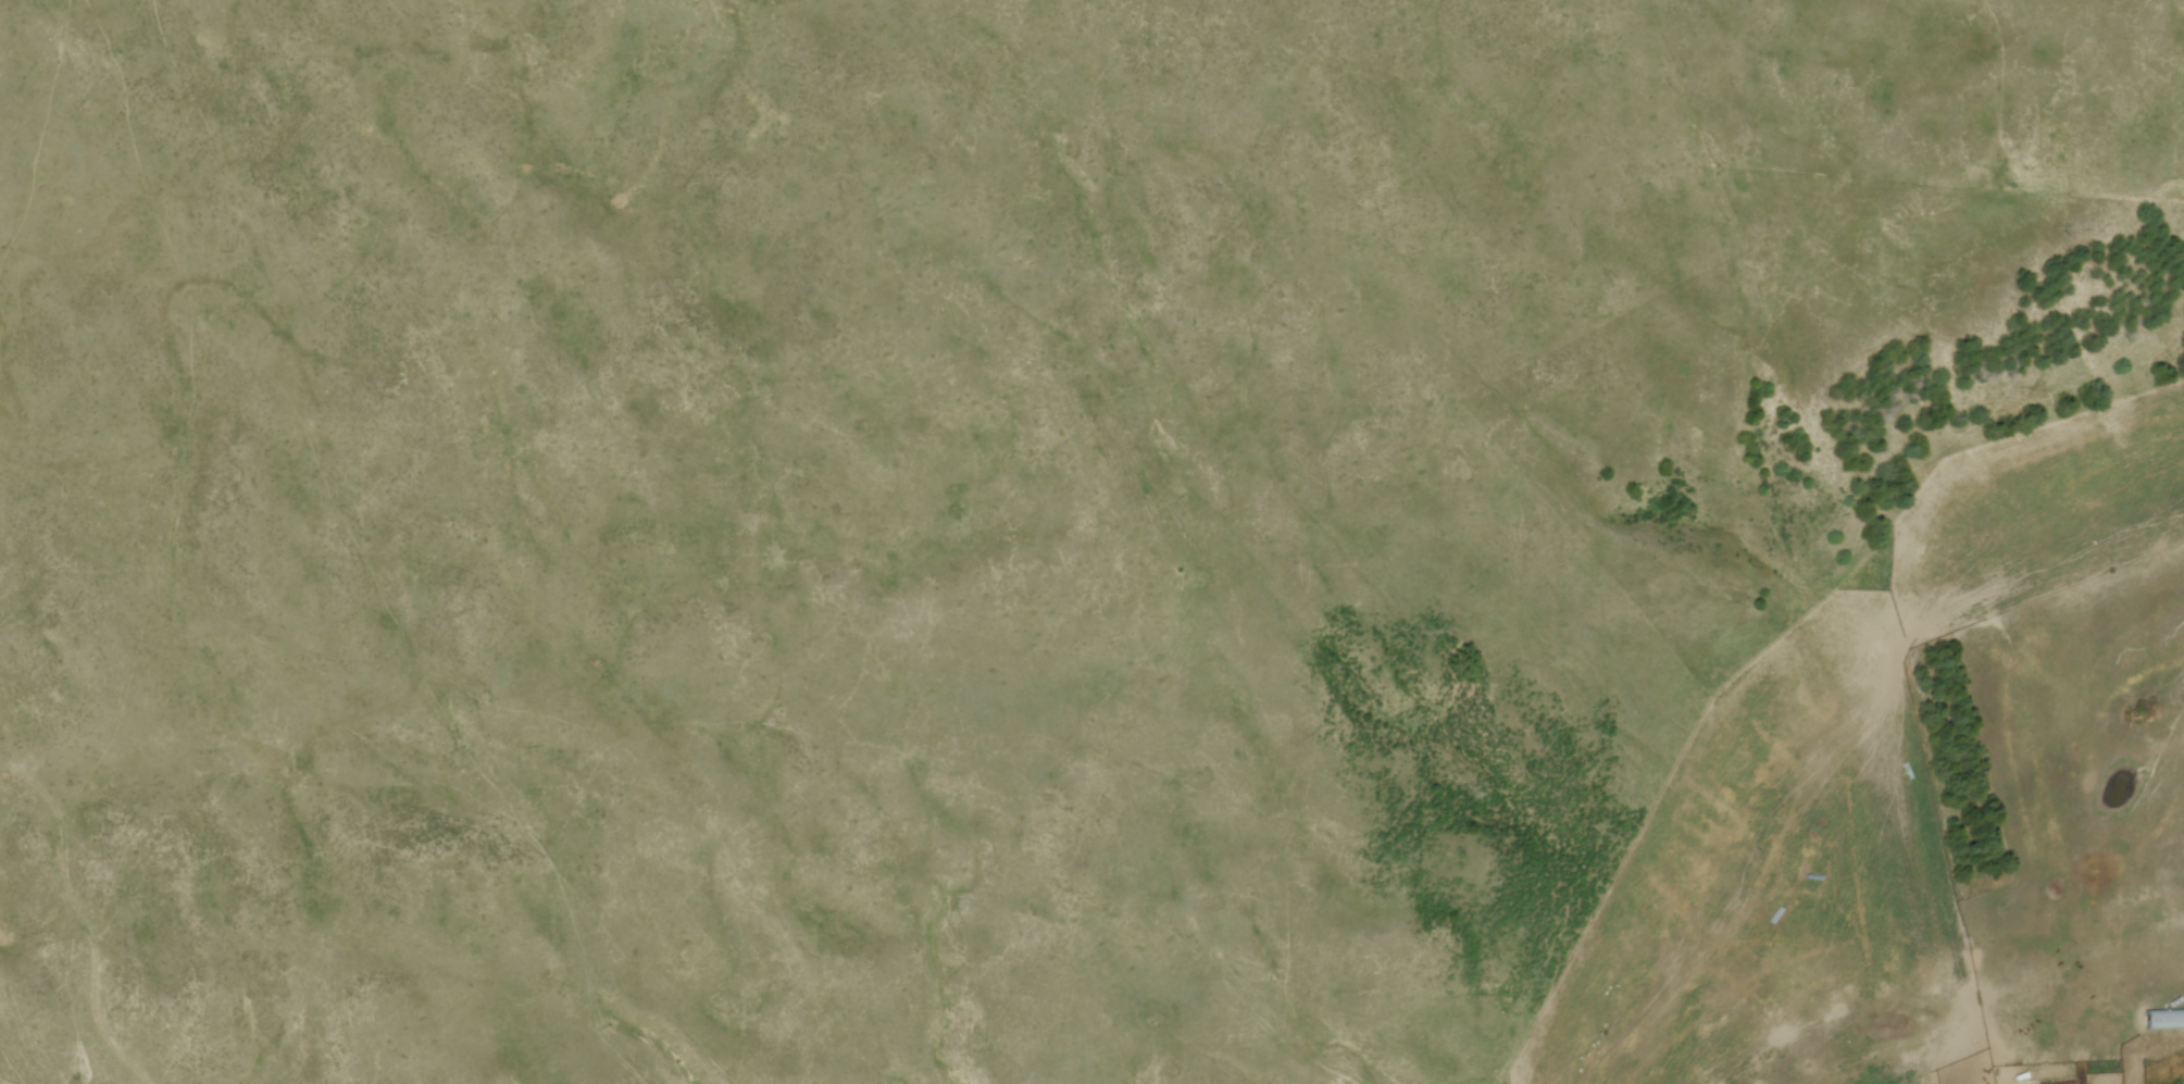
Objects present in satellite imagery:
building: (2162, 1020)

